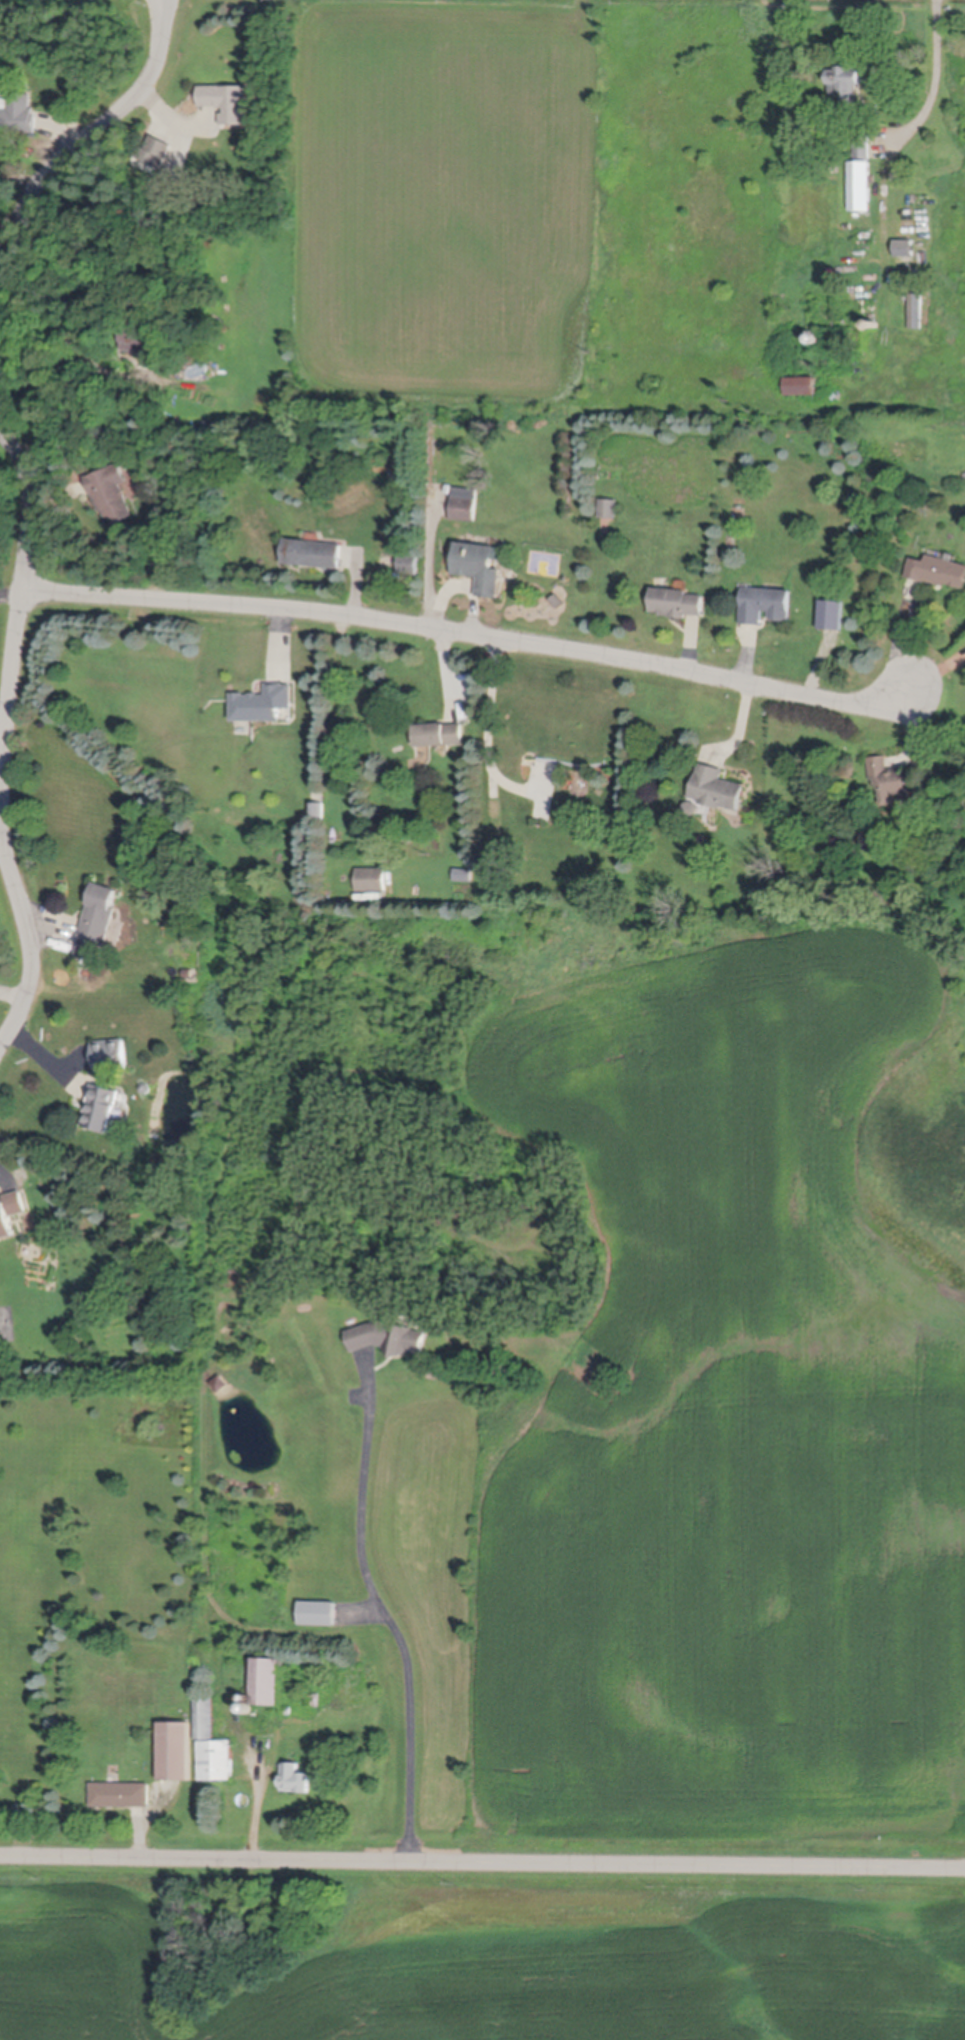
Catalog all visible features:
road: (937, 77)
building: (845, 79)
building: (227, 99)
building: (18, 111)
building: (862, 144)
road: (84, 146)
building: (152, 152)
road: (19, 177)
building: (859, 183)
road: (8, 221)
building: (905, 245)
building: (915, 308)
building: (846, 321)
building: (874, 323)
building: (142, 335)
building: (860, 336)
building: (815, 337)
building: (846, 342)
road: (70, 360)
building: (800, 383)
building: (88, 436)
building: (110, 491)
building: (463, 507)
building: (607, 507)
building: (312, 551)
building: (156, 558)
building: (167, 560)
building: (408, 561)
building: (478, 565)
building: (938, 569)
building: (676, 600)
building: (764, 602)
road: (474, 638)
road: (899, 642)
building: (262, 702)
building: (440, 732)
road: (490, 733)
road: (337, 737)
road: (9, 740)
building: (893, 780)
building: (717, 787)
building: (693, 807)
building: (319, 809)
building: (372, 879)
building: (97, 919)
building: (110, 1054)
building: (146, 1087)
building: (101, 1106)
building: (11, 1212)
building: (388, 1337)
building: (85, 1367)
building: (220, 1388)
building: (316, 1612)
road: (392, 1621)
building: (269, 1683)
building: (312, 1700)
building: (249, 1709)
building: (287, 1711)
building: (205, 1719)
building: (176, 1752)
building: (217, 1761)
building: (295, 1779)
building: (120, 1795)
road: (257, 1804)
road: (482, 1863)

